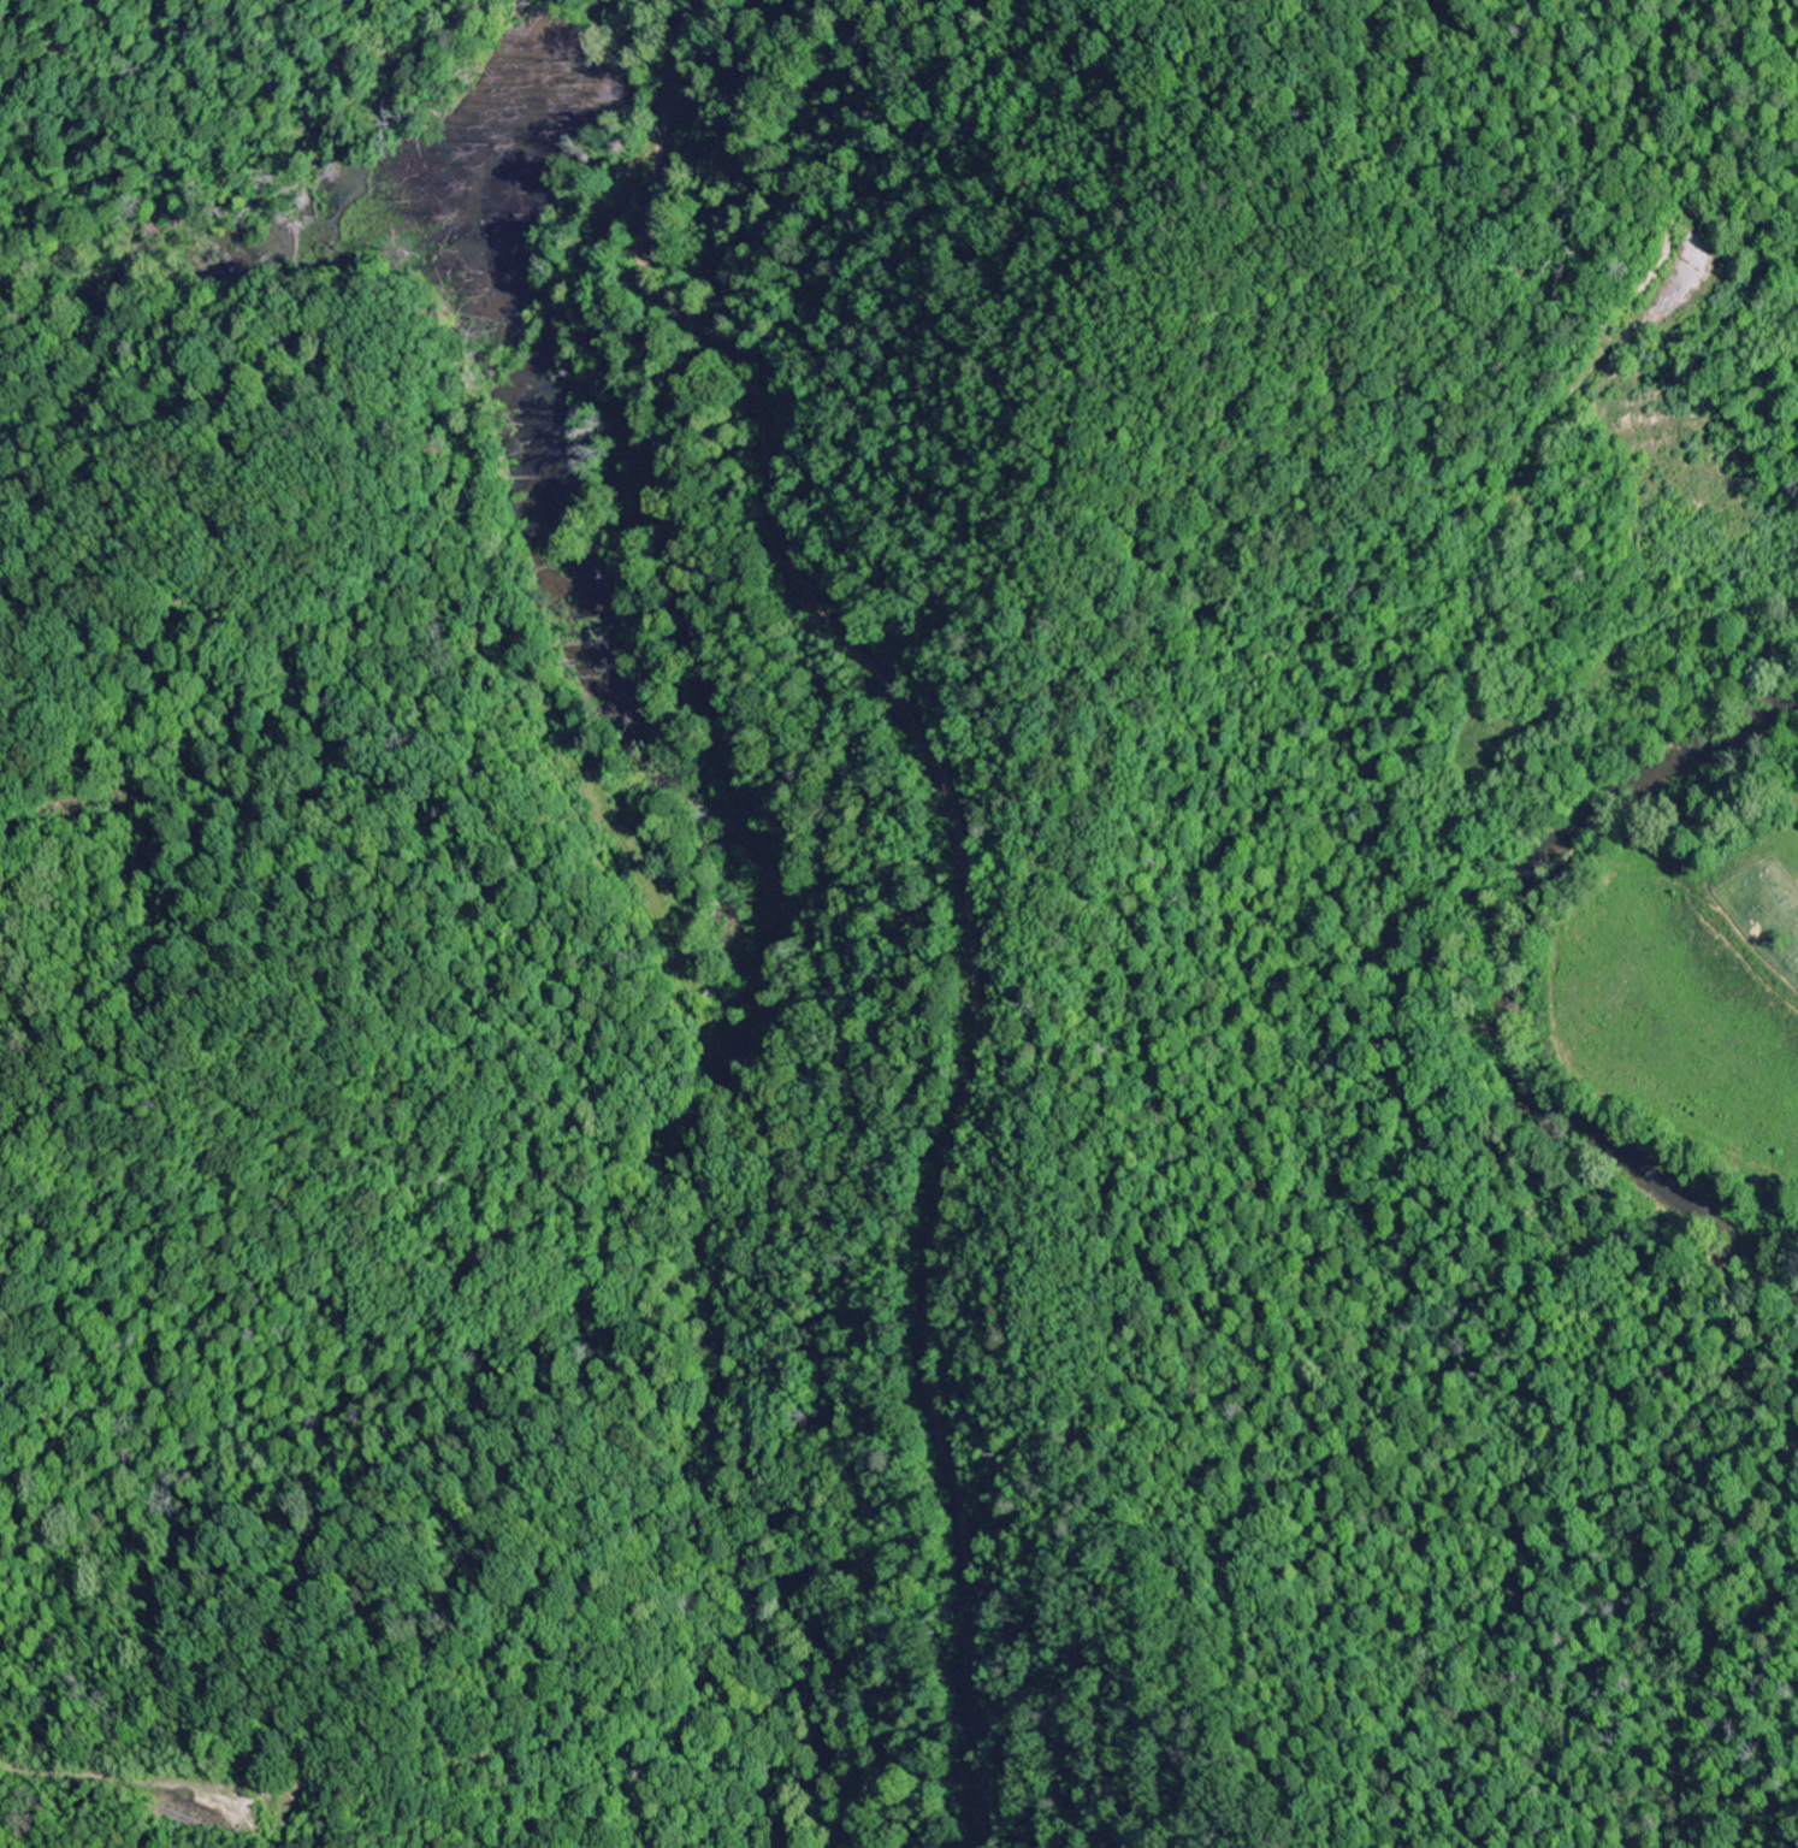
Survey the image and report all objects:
park: (1768, 907)

